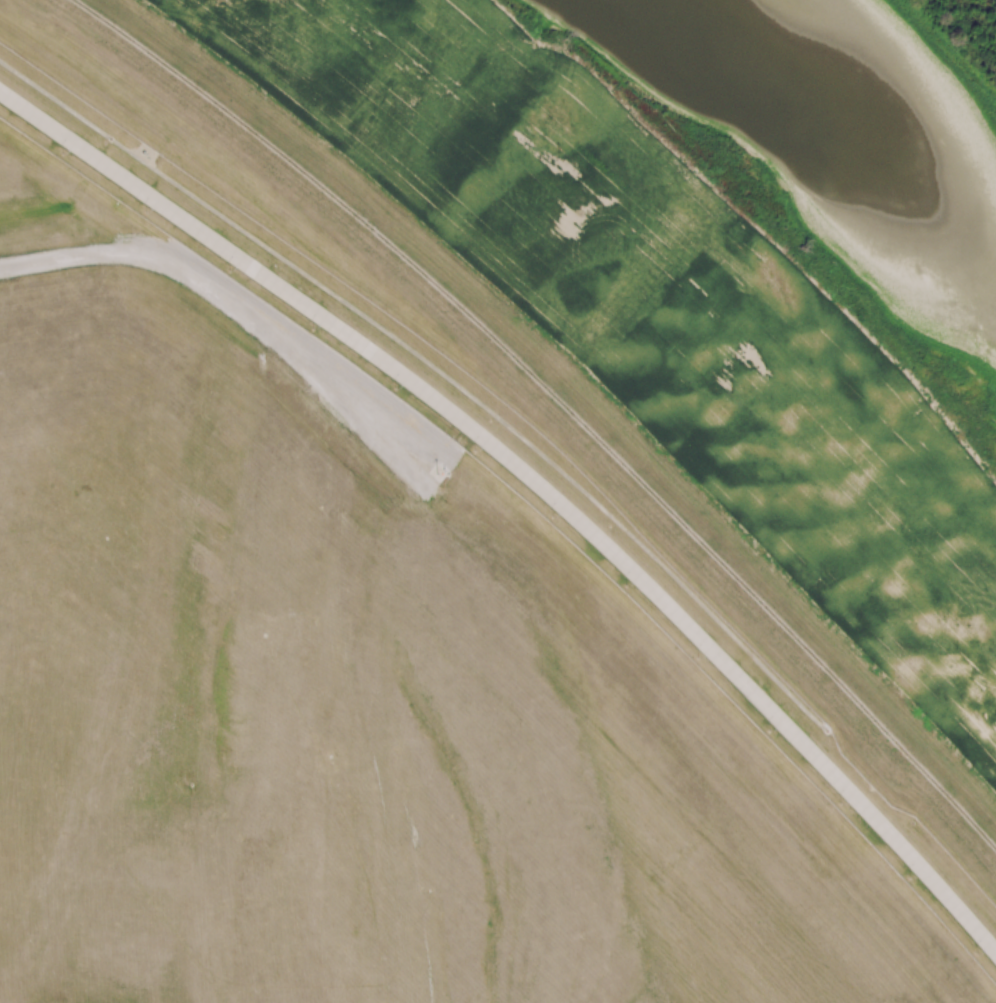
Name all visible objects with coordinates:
road: (265, 339)
road: (533, 481)
airport: (372, 663)

